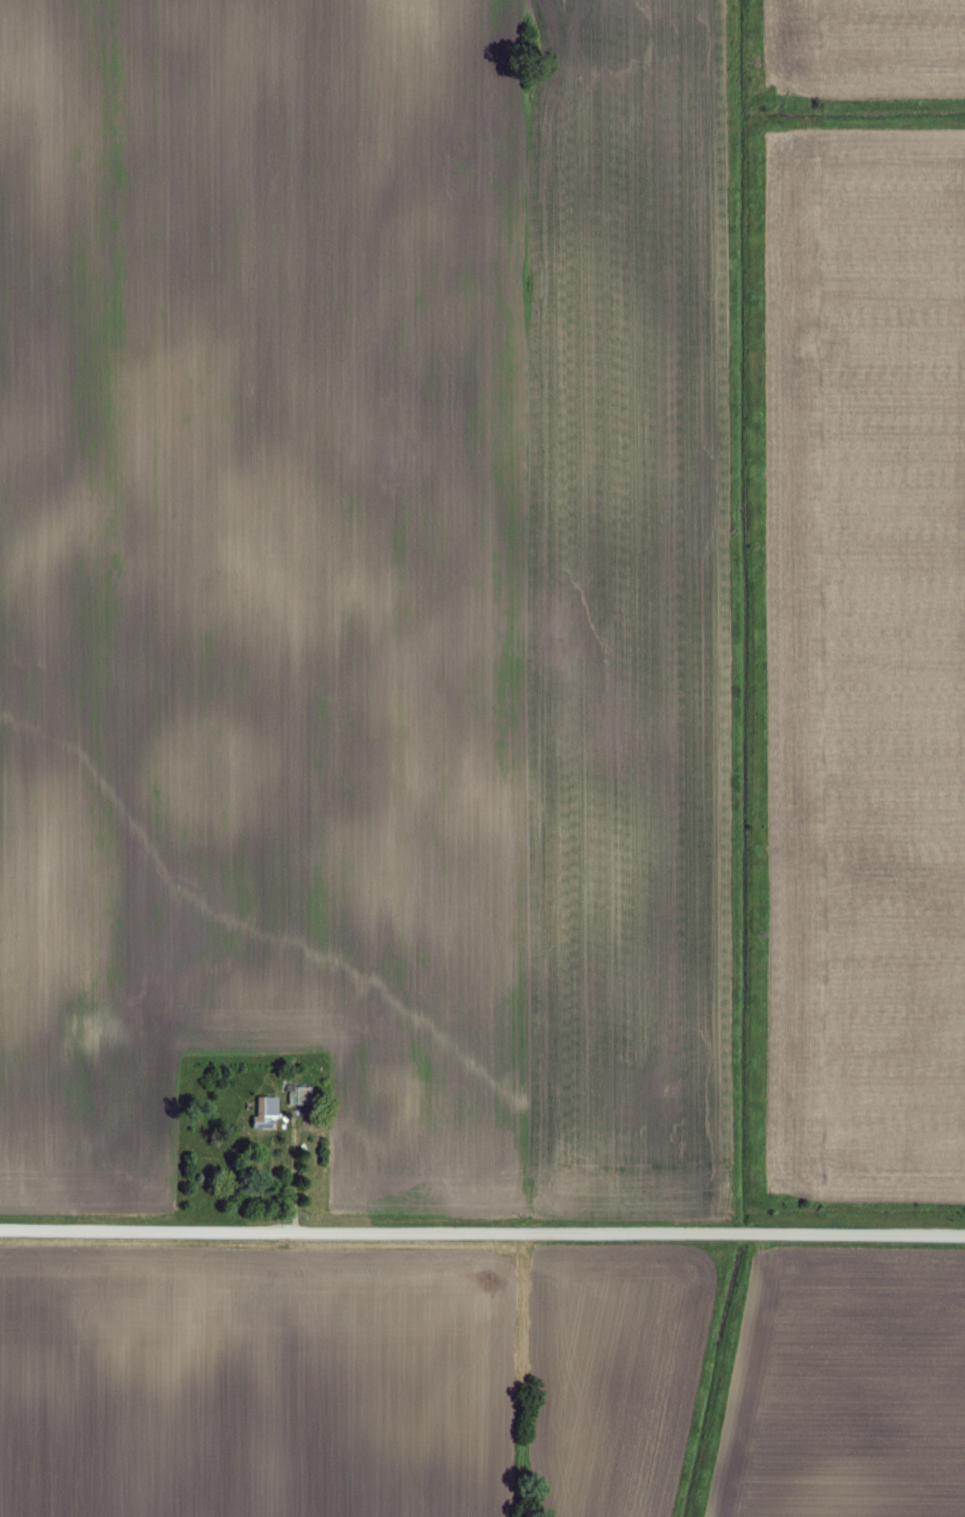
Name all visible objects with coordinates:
road: (482, 1233)

